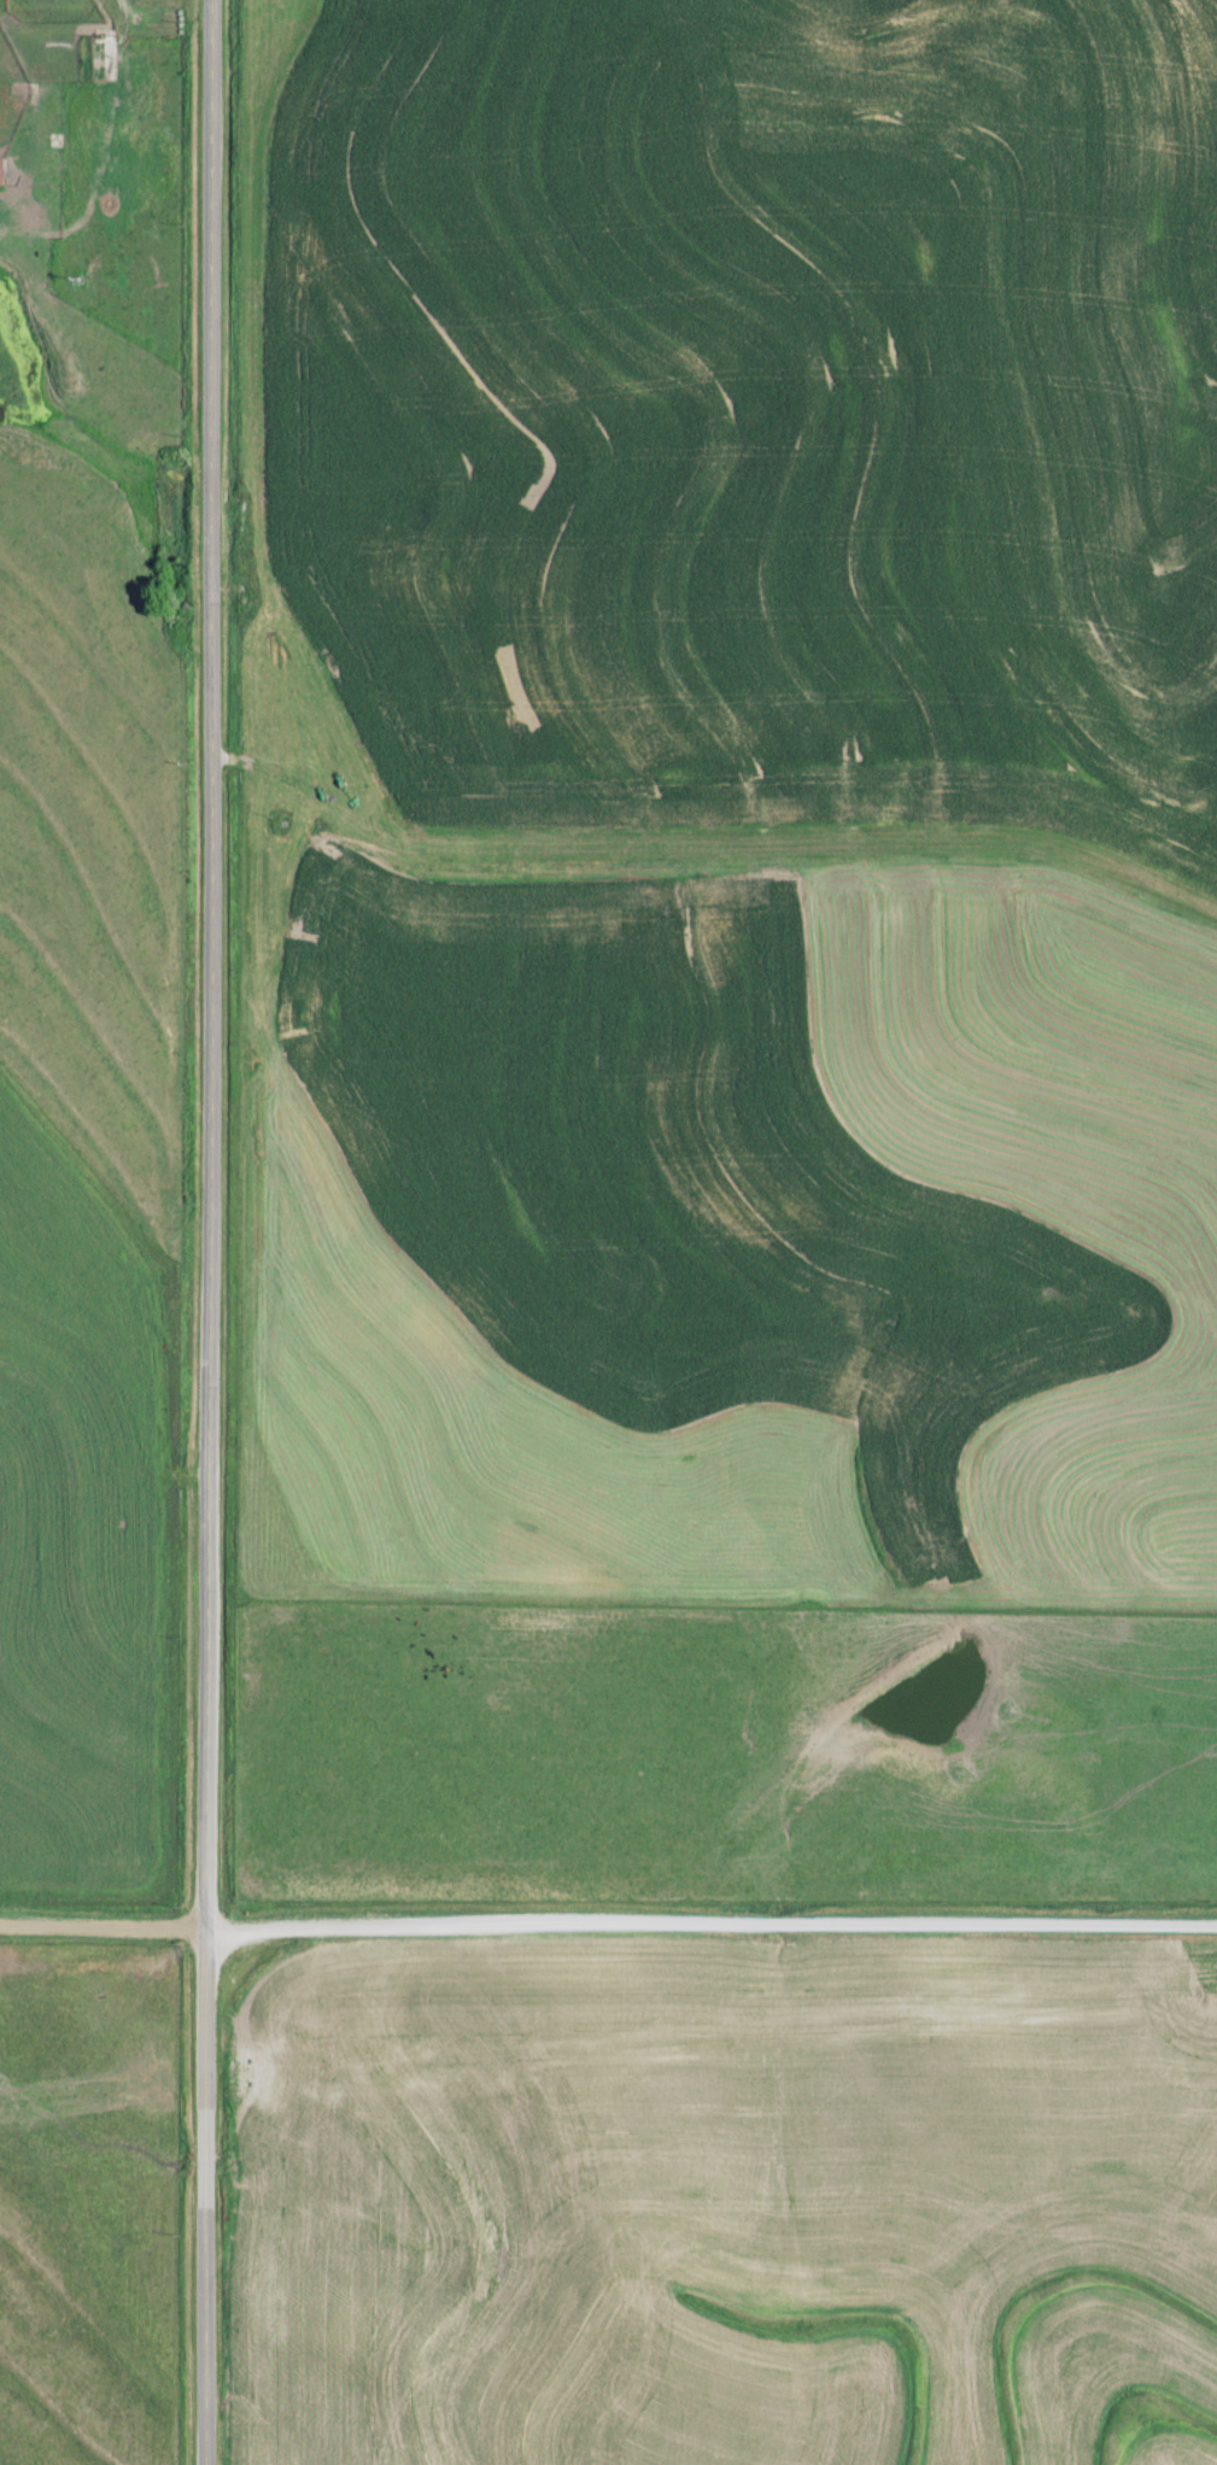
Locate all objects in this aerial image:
road: (200, 1232)
road: (99, 1938)
road: (708, 1938)

